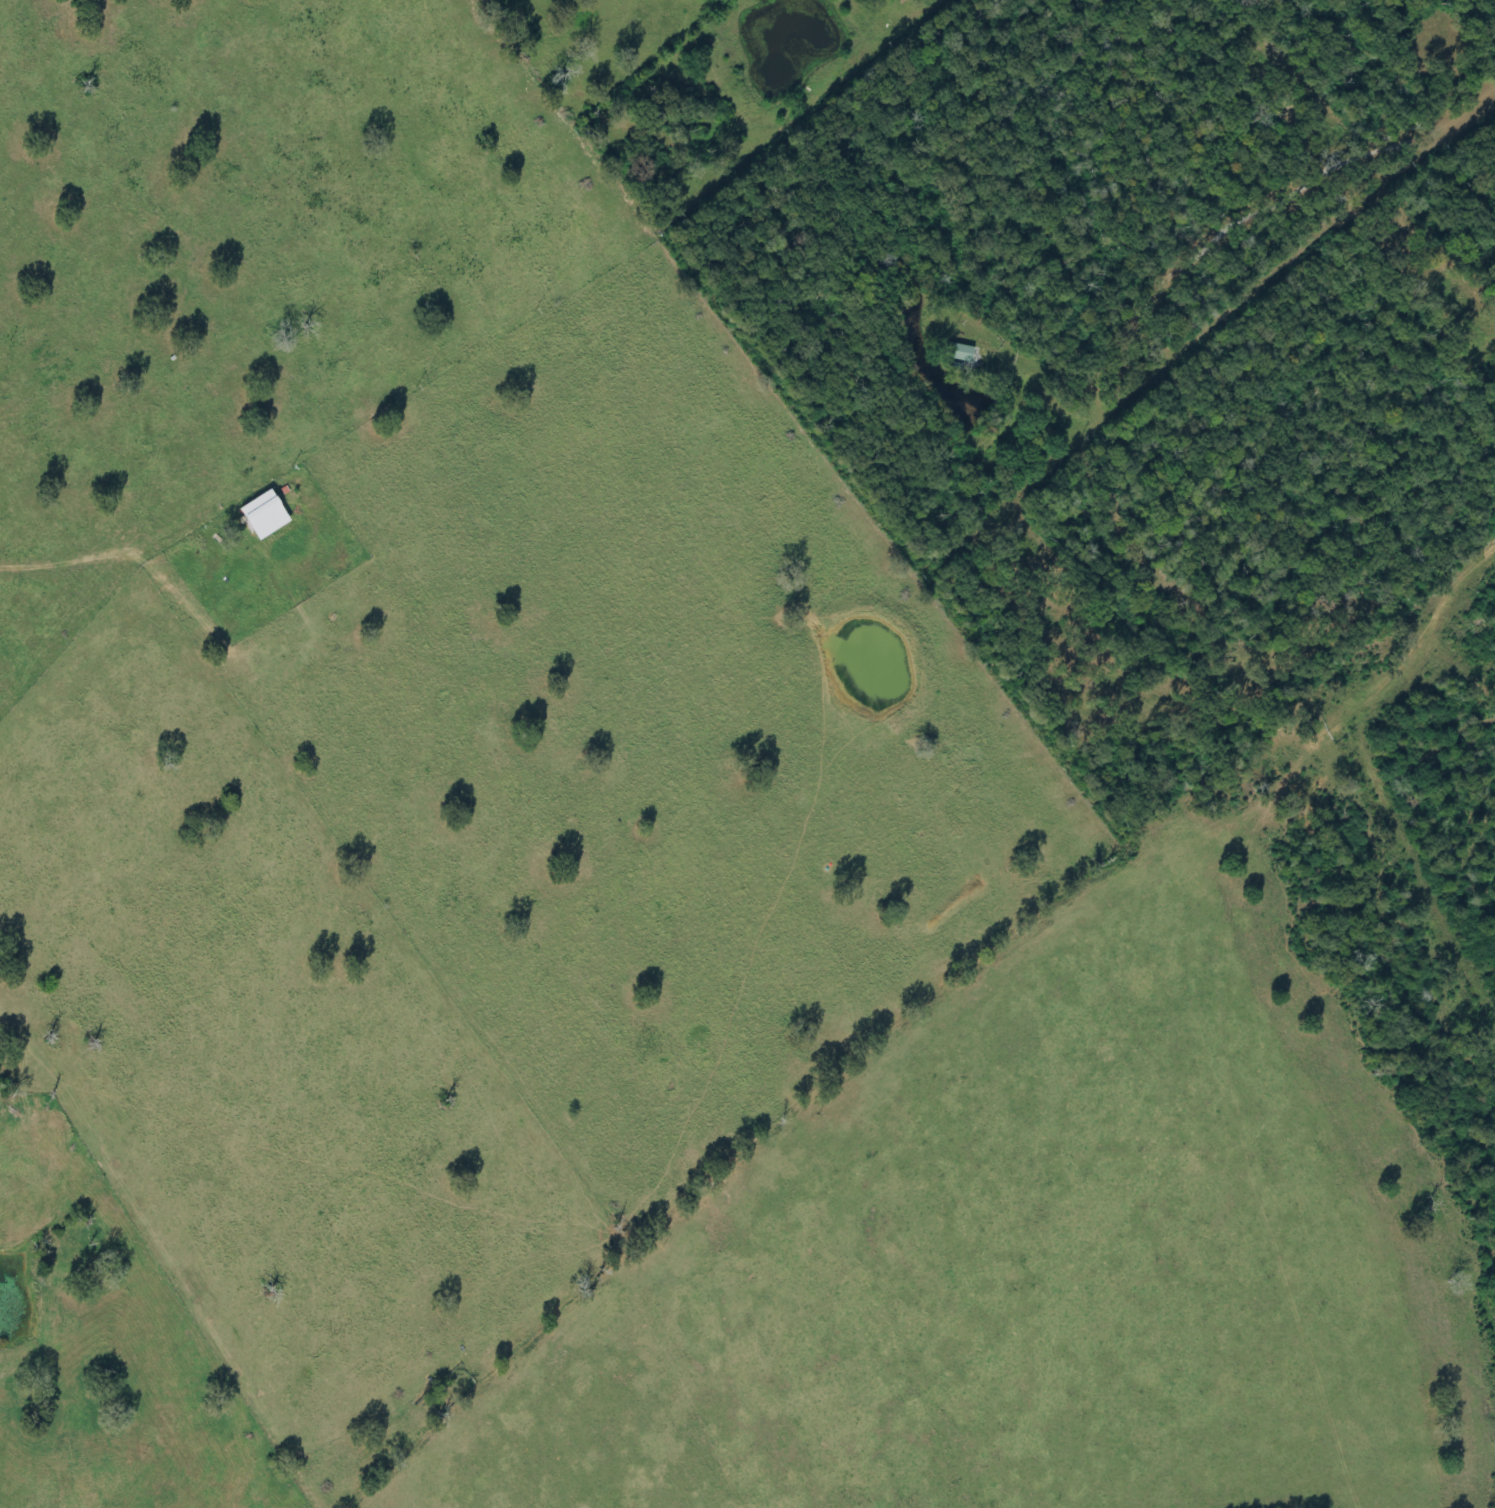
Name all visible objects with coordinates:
building: (268, 515)

